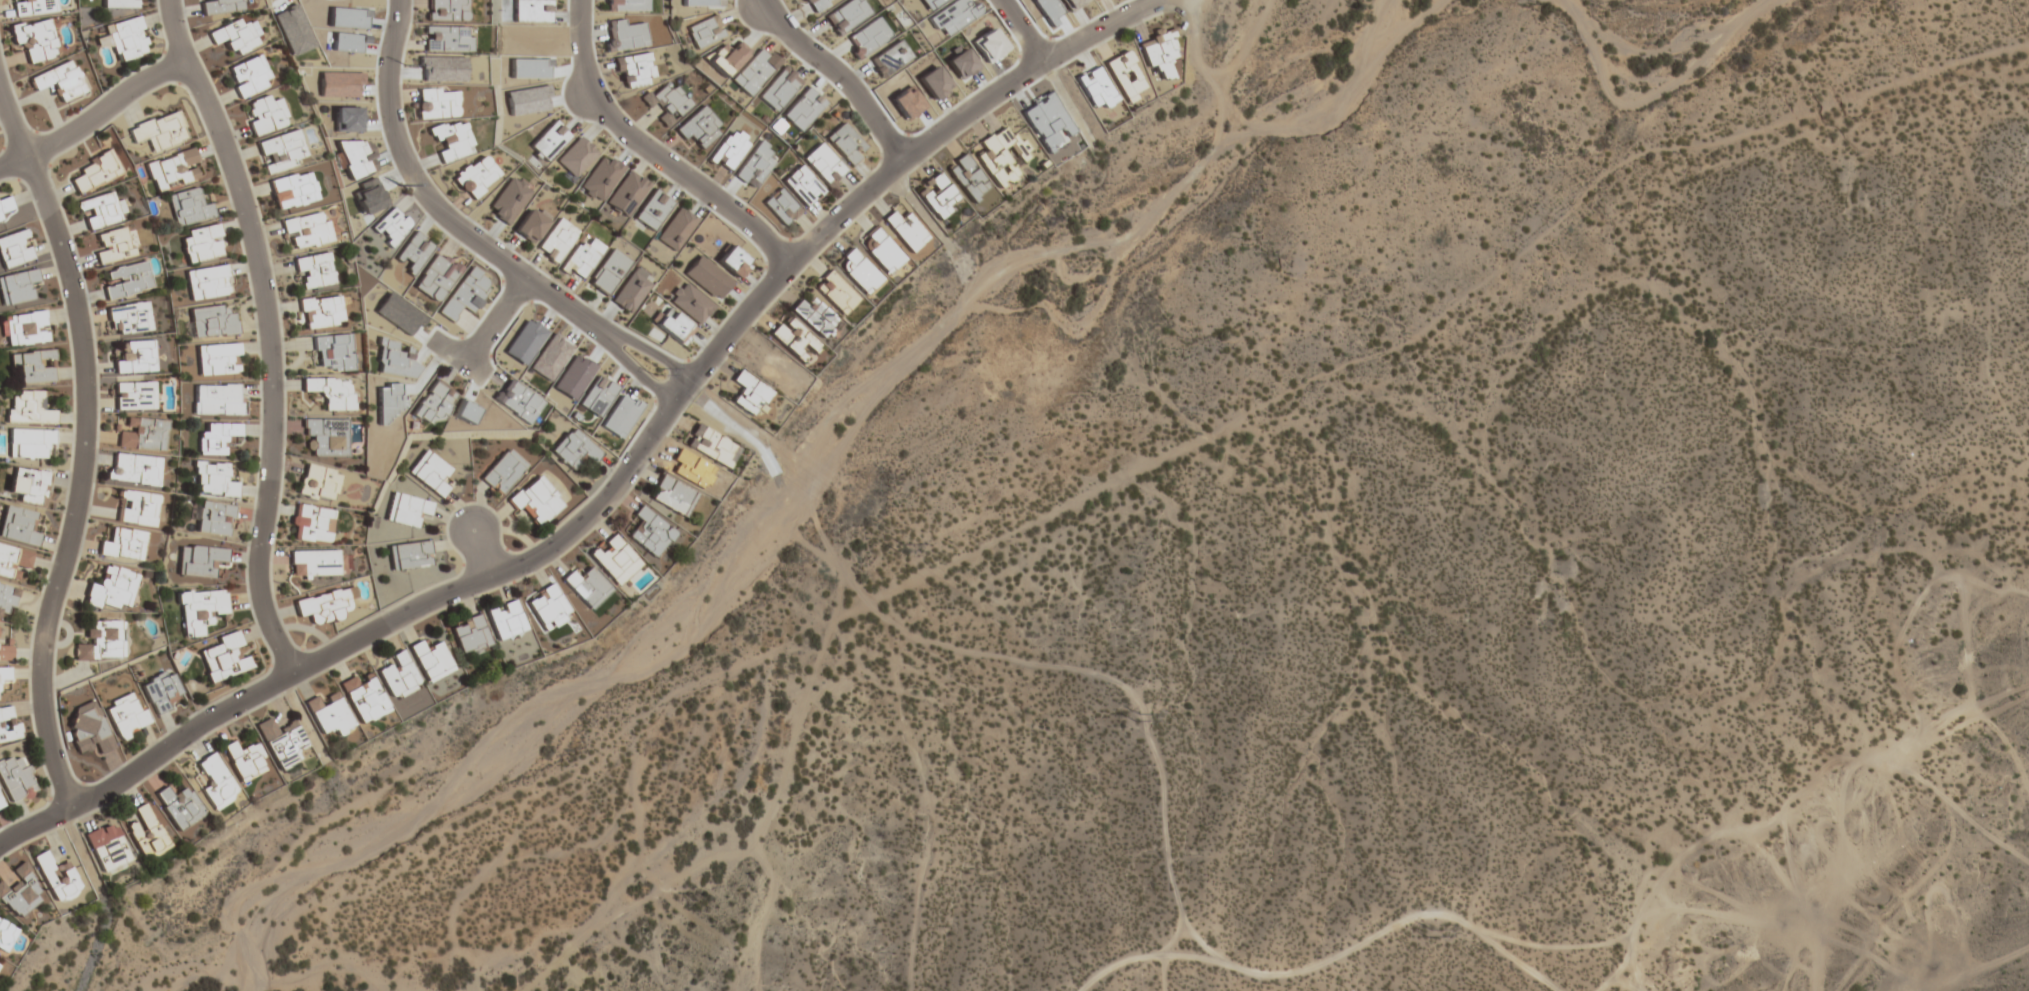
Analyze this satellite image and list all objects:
building: (119, 4)
building: (814, 4)
building: (221, 6)
building: (33, 7)
building: (446, 10)
building: (494, 12)
road: (174, 31)
building: (704, 32)
road: (1017, 32)
building: (236, 36)
building: (35, 39)
building: (126, 39)
building: (1159, 53)
power tower: (395, 66)
building: (635, 70)
building: (754, 70)
road: (832, 75)
building: (249, 76)
building: (1125, 76)
building: (60, 81)
building: (668, 100)
building: (436, 103)
building: (266, 115)
road: (93, 122)
building: (699, 128)
road: (13, 131)
building: (159, 131)
building: (452, 140)
building: (846, 144)
road: (648, 148)
building: (729, 150)
building: (282, 151)
building: (1001, 155)
building: (824, 165)
building: (173, 170)
building: (95, 172)
building: (475, 177)
building: (969, 178)
building: (801, 185)
power tower: (389, 187)
building: (293, 190)
building: (937, 195)
building: (781, 207)
building: (189, 208)
building: (102, 210)
building: (0, 219)
building: (306, 229)
building: (906, 230)
road: (461, 240)
building: (556, 241)
building: (202, 244)
building: (115, 246)
building: (15, 249)
building: (882, 251)
building: (582, 258)
building: (314, 271)
building: (858, 272)
building: (128, 280)
building: (209, 282)
building: (18, 287)
building: (835, 293)
building: (321, 312)
building: (814, 317)
building: (129, 318)
building: (211, 322)
road: (492, 323)
building: (24, 328)
building: (793, 339)
building: (334, 352)
building: (136, 358)
building: (218, 359)
road: (271, 365)
building: (33, 366)
power tower: (651, 371)
building: (331, 392)
building: (748, 394)
building: (134, 396)
building: (217, 399)
building: (434, 404)
building: (28, 408)
building: (142, 435)
building: (326, 437)
building: (216, 439)
building: (29, 443)
building: (710, 445)
building: (573, 450)
building: (134, 469)
building: (503, 472)
road: (624, 473)
building: (431, 475)
building: (213, 480)
building: (319, 482)
road: (80, 483)
building: (28, 485)
building: (672, 496)
building: (536, 501)
building: (137, 508)
building: (407, 510)
building: (215, 519)
building: (311, 523)
building: (18, 526)
building: (651, 532)
building: (124, 544)
power tower: (894, 547)
road: (475, 555)
building: (410, 556)
building: (615, 560)
building: (13, 561)
building: (200, 561)
building: (317, 563)
building: (587, 587)
building: (112, 589)
building: (6, 600)
building: (546, 605)
building: (323, 606)
building: (200, 610)
building: (505, 619)
building: (470, 635)
building: (101, 642)
building: (5, 653)
building: (225, 658)
building: (431, 660)
building: (5, 674)
building: (399, 677)
building: (161, 691)
building: (364, 697)
road: (1129, 699)
building: (126, 715)
building: (329, 715)
power tower: (1128, 722)
building: (8, 724)
building: (89, 728)
building: (281, 741)
building: (245, 761)
building: (16, 778)
building: (216, 782)
street lamp: (46, 801)
building: (1, 804)
building: (179, 806)
building: (146, 833)
building: (108, 849)
building: (57, 877)
building: (21, 893)
power tower: (1426, 933)
building: (6, 935)
road: (1172, 936)
road: (1624, 955)
road: (1328, 960)
road: (1978, 971)
road: (1162, 973)

